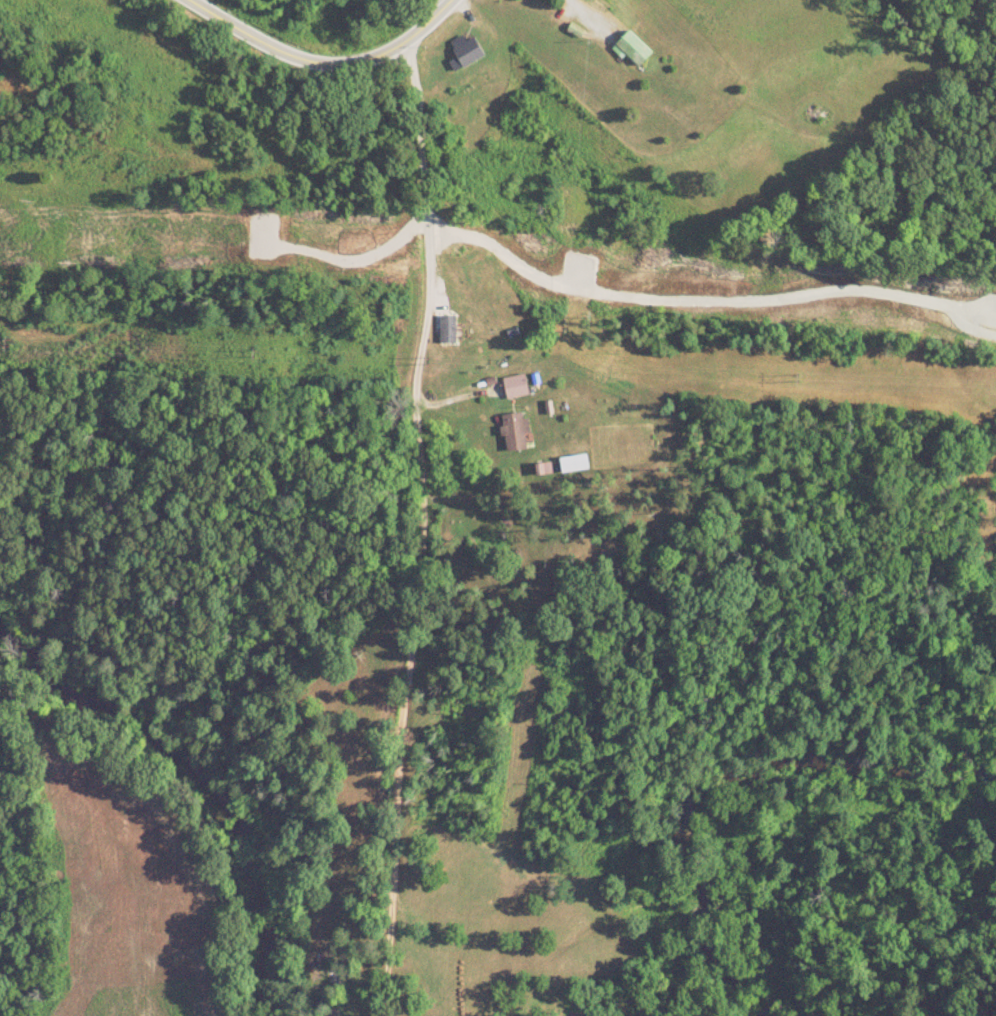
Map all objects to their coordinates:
building: (633, 48)
building: (466, 49)
road: (325, 60)
building: (448, 329)
building: (515, 386)
building: (515, 431)
building: (573, 463)
road: (420, 530)
river: (824, 891)

